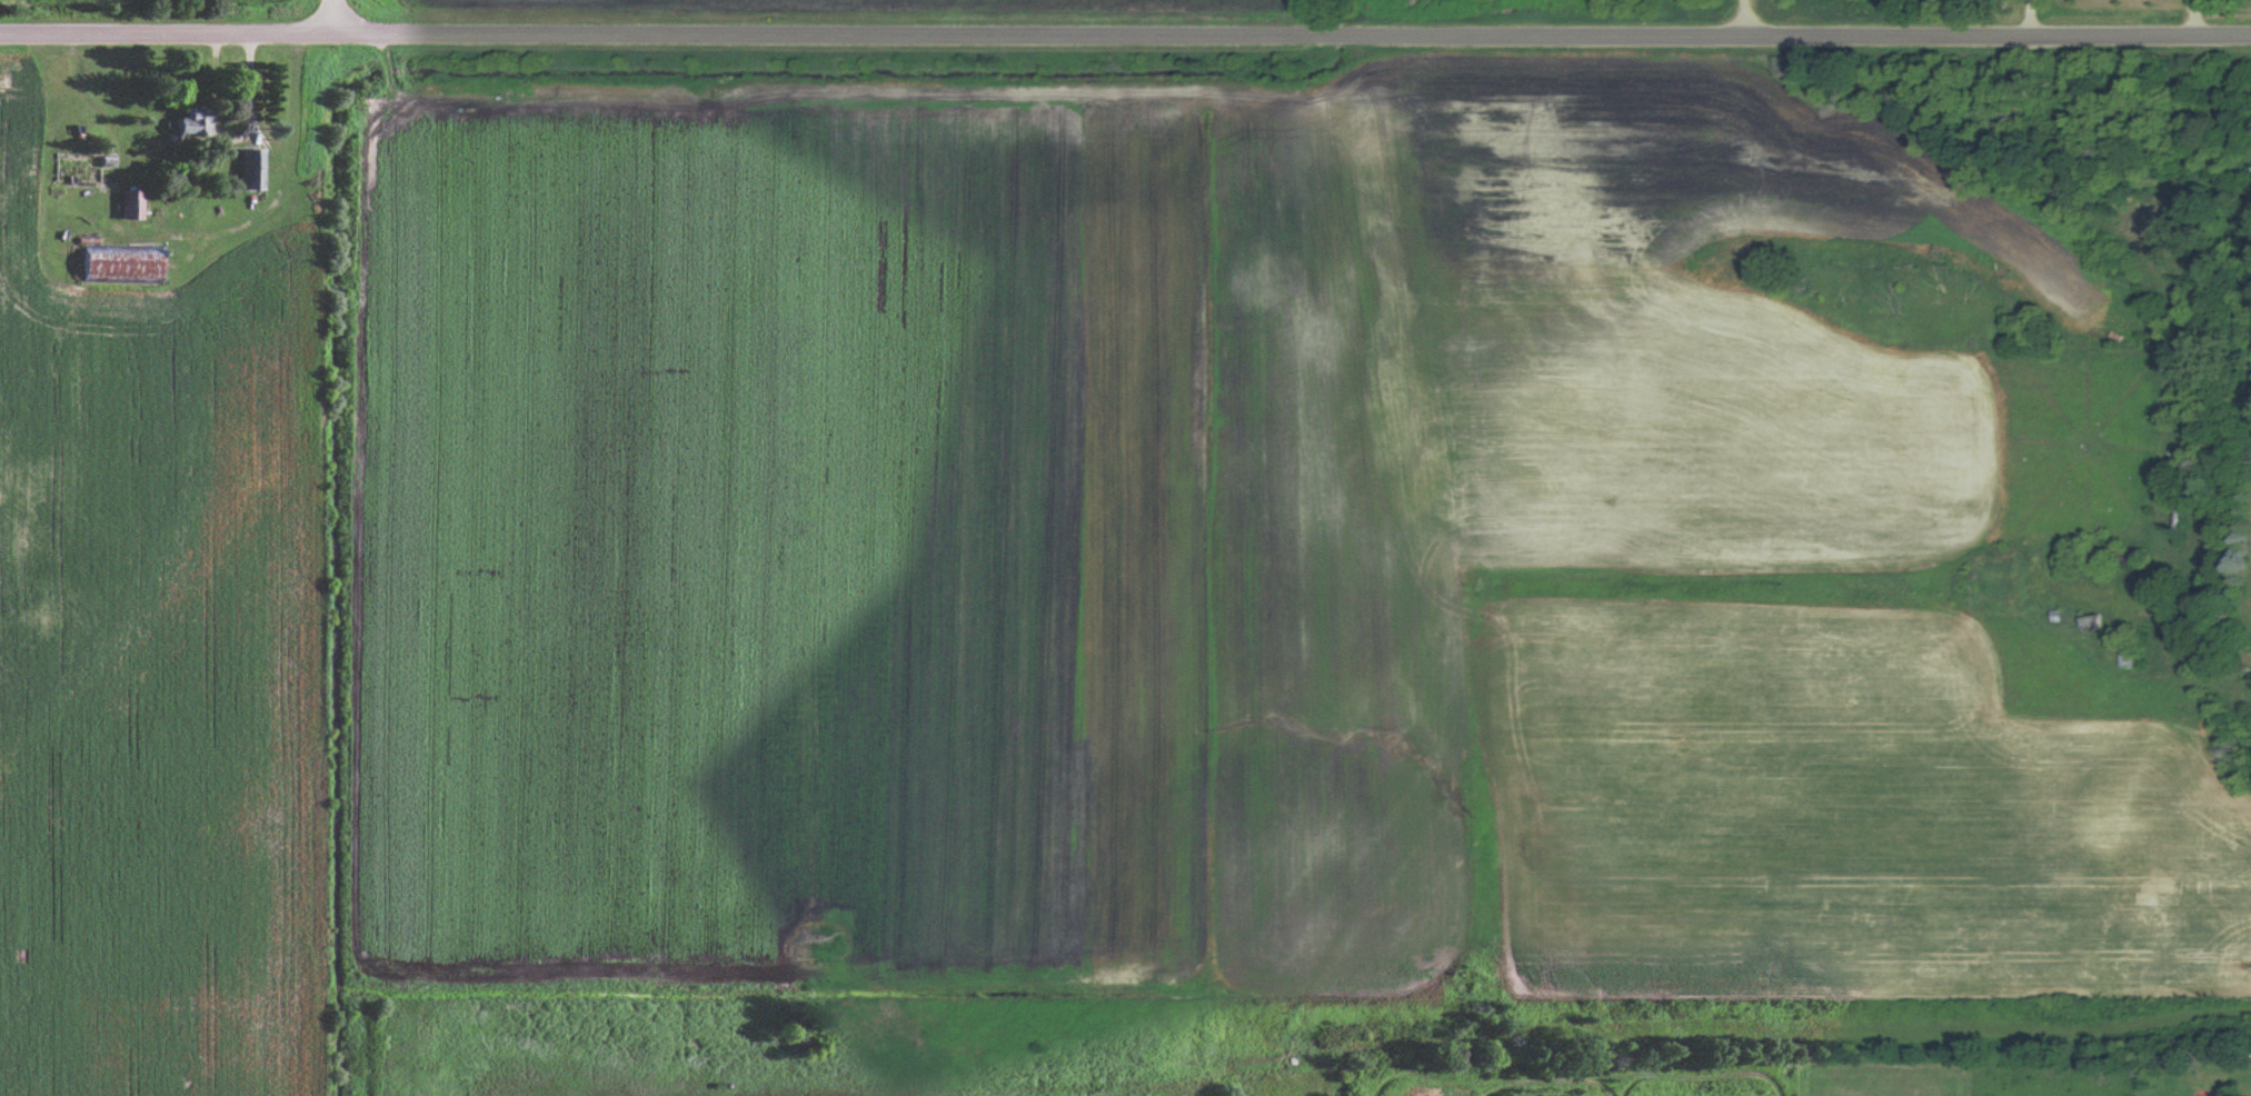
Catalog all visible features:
road: (330, 19)
road: (2030, 20)
road: (1739, 21)
road: (1125, 41)
building: (193, 124)
building: (251, 171)
building: (130, 207)
building: (2172, 460)
building: (2175, 514)

